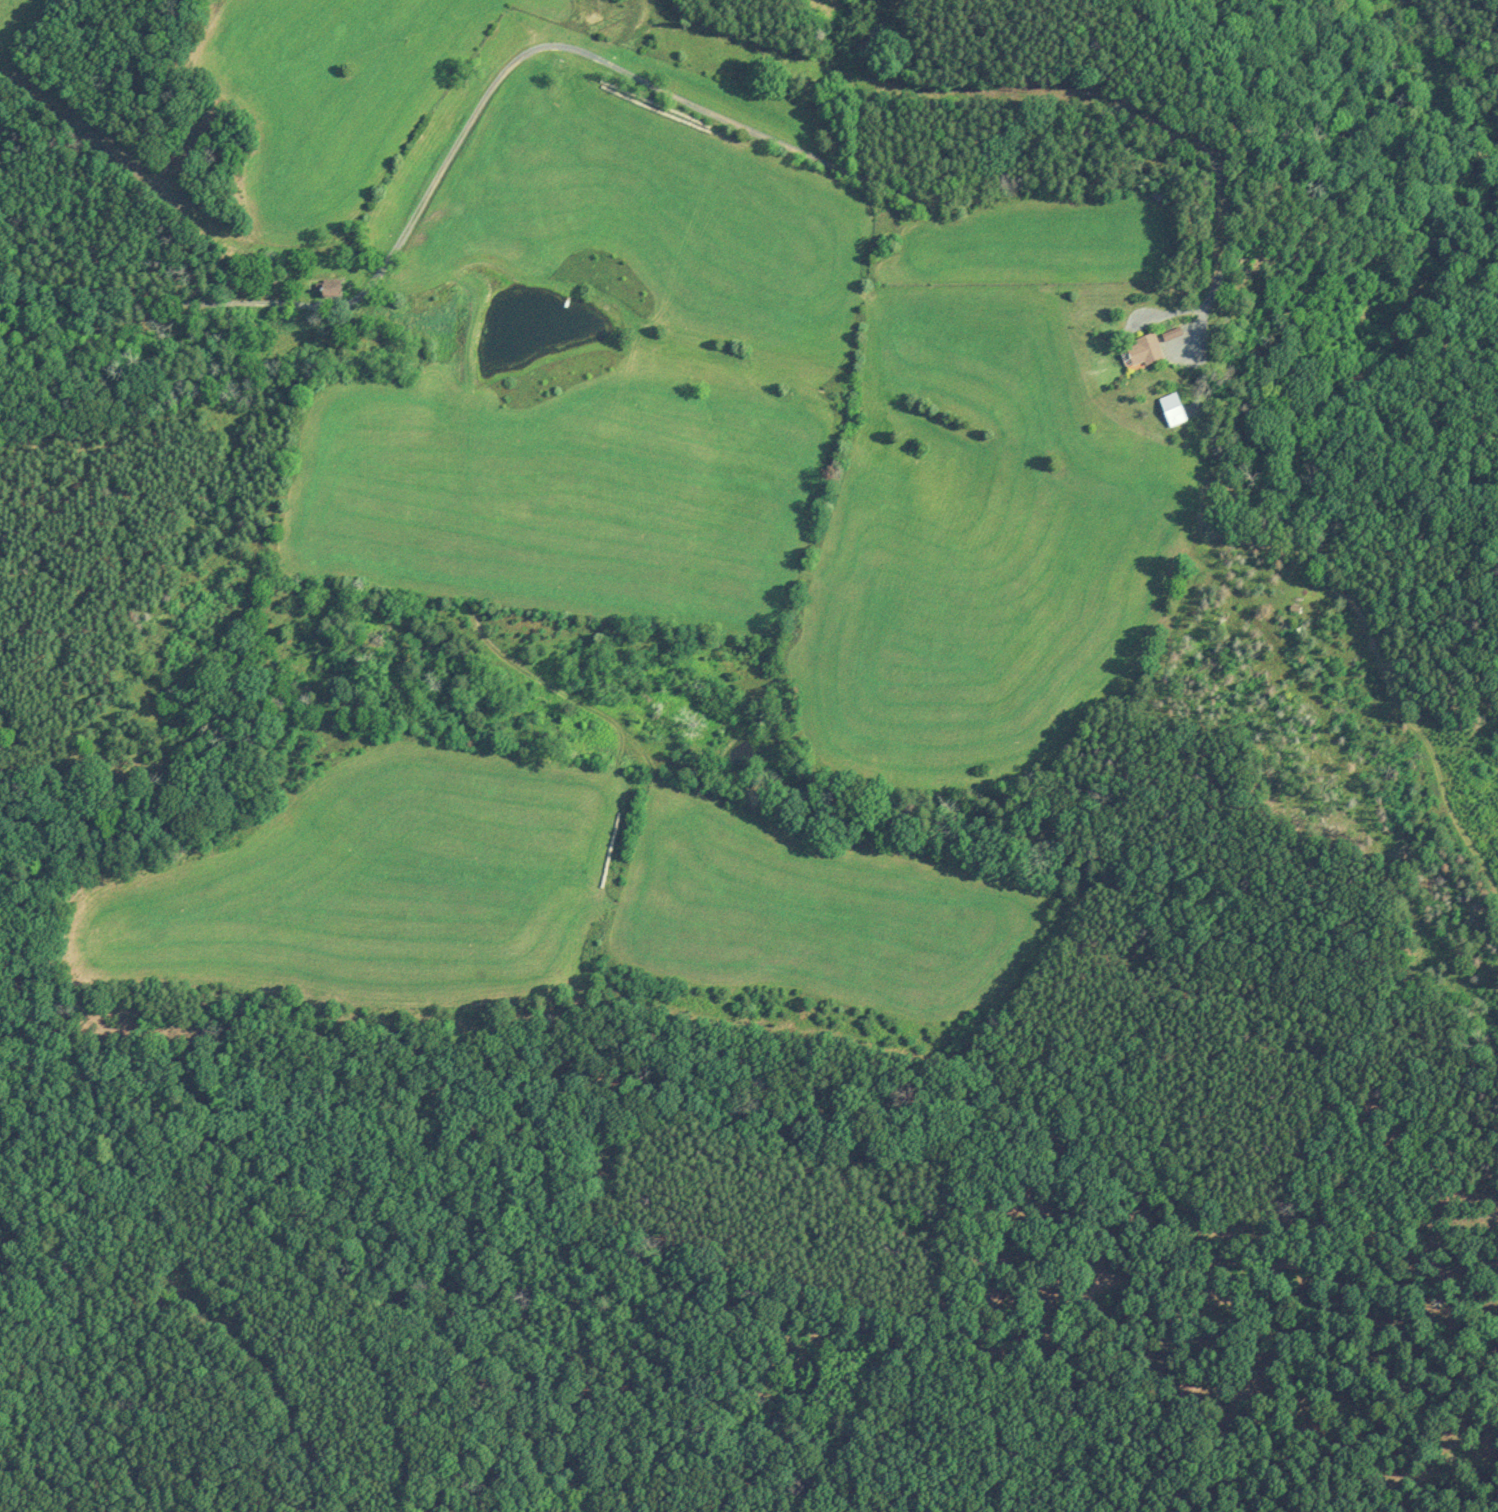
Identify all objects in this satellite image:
building: (331, 291)
building: (1145, 351)
road: (430, 364)
building: (1174, 410)

